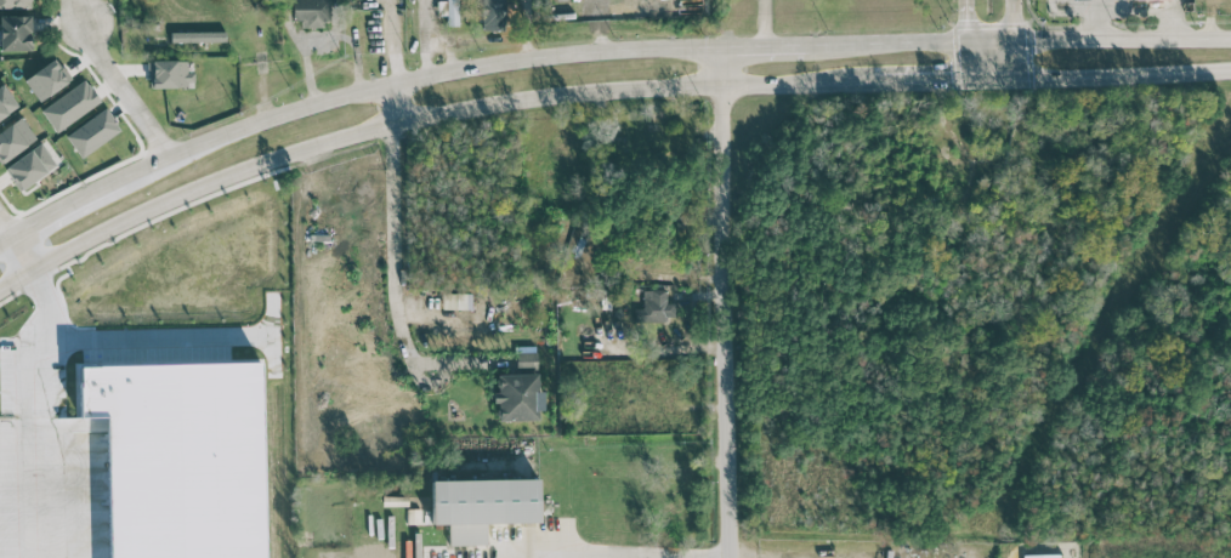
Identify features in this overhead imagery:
road: (1176, 2)
building: (15, 4)
road: (1095, 4)
road: (1135, 6)
road: (1091, 7)
building: (310, 12)
building: (453, 12)
building: (493, 15)
road: (964, 19)
road: (1014, 19)
road: (762, 22)
road: (1176, 22)
building: (15, 32)
building: (197, 35)
road: (425, 36)
road: (989, 39)
traffic signals: (1015, 39)
road: (1123, 39)
road: (388, 40)
traffic signals: (965, 40)
road: (887, 41)
road: (762, 44)
road: (262, 57)
road: (1016, 57)
road: (965, 58)
road: (1124, 70)
building: (169, 73)
road: (992, 75)
traffic signals: (1017, 75)
traffic signals: (966, 76)
road: (920, 78)
road: (408, 79)
building: (46, 80)
road: (110, 81)
building: (6, 102)
road: (388, 102)
building: (70, 104)
road: (420, 115)
building: (92, 132)
building: (15, 138)
building: (30, 165)
road: (64, 206)
road: (6, 223)
road: (6, 237)
road: (24, 249)
road: (392, 290)
building: (459, 300)
road: (722, 301)
building: (654, 306)
road: (165, 336)
road: (51, 343)
building: (526, 355)
building: (517, 397)
road: (35, 490)
building: (482, 505)
road: (1040, 550)
road: (607, 553)
building: (1040, 556)

